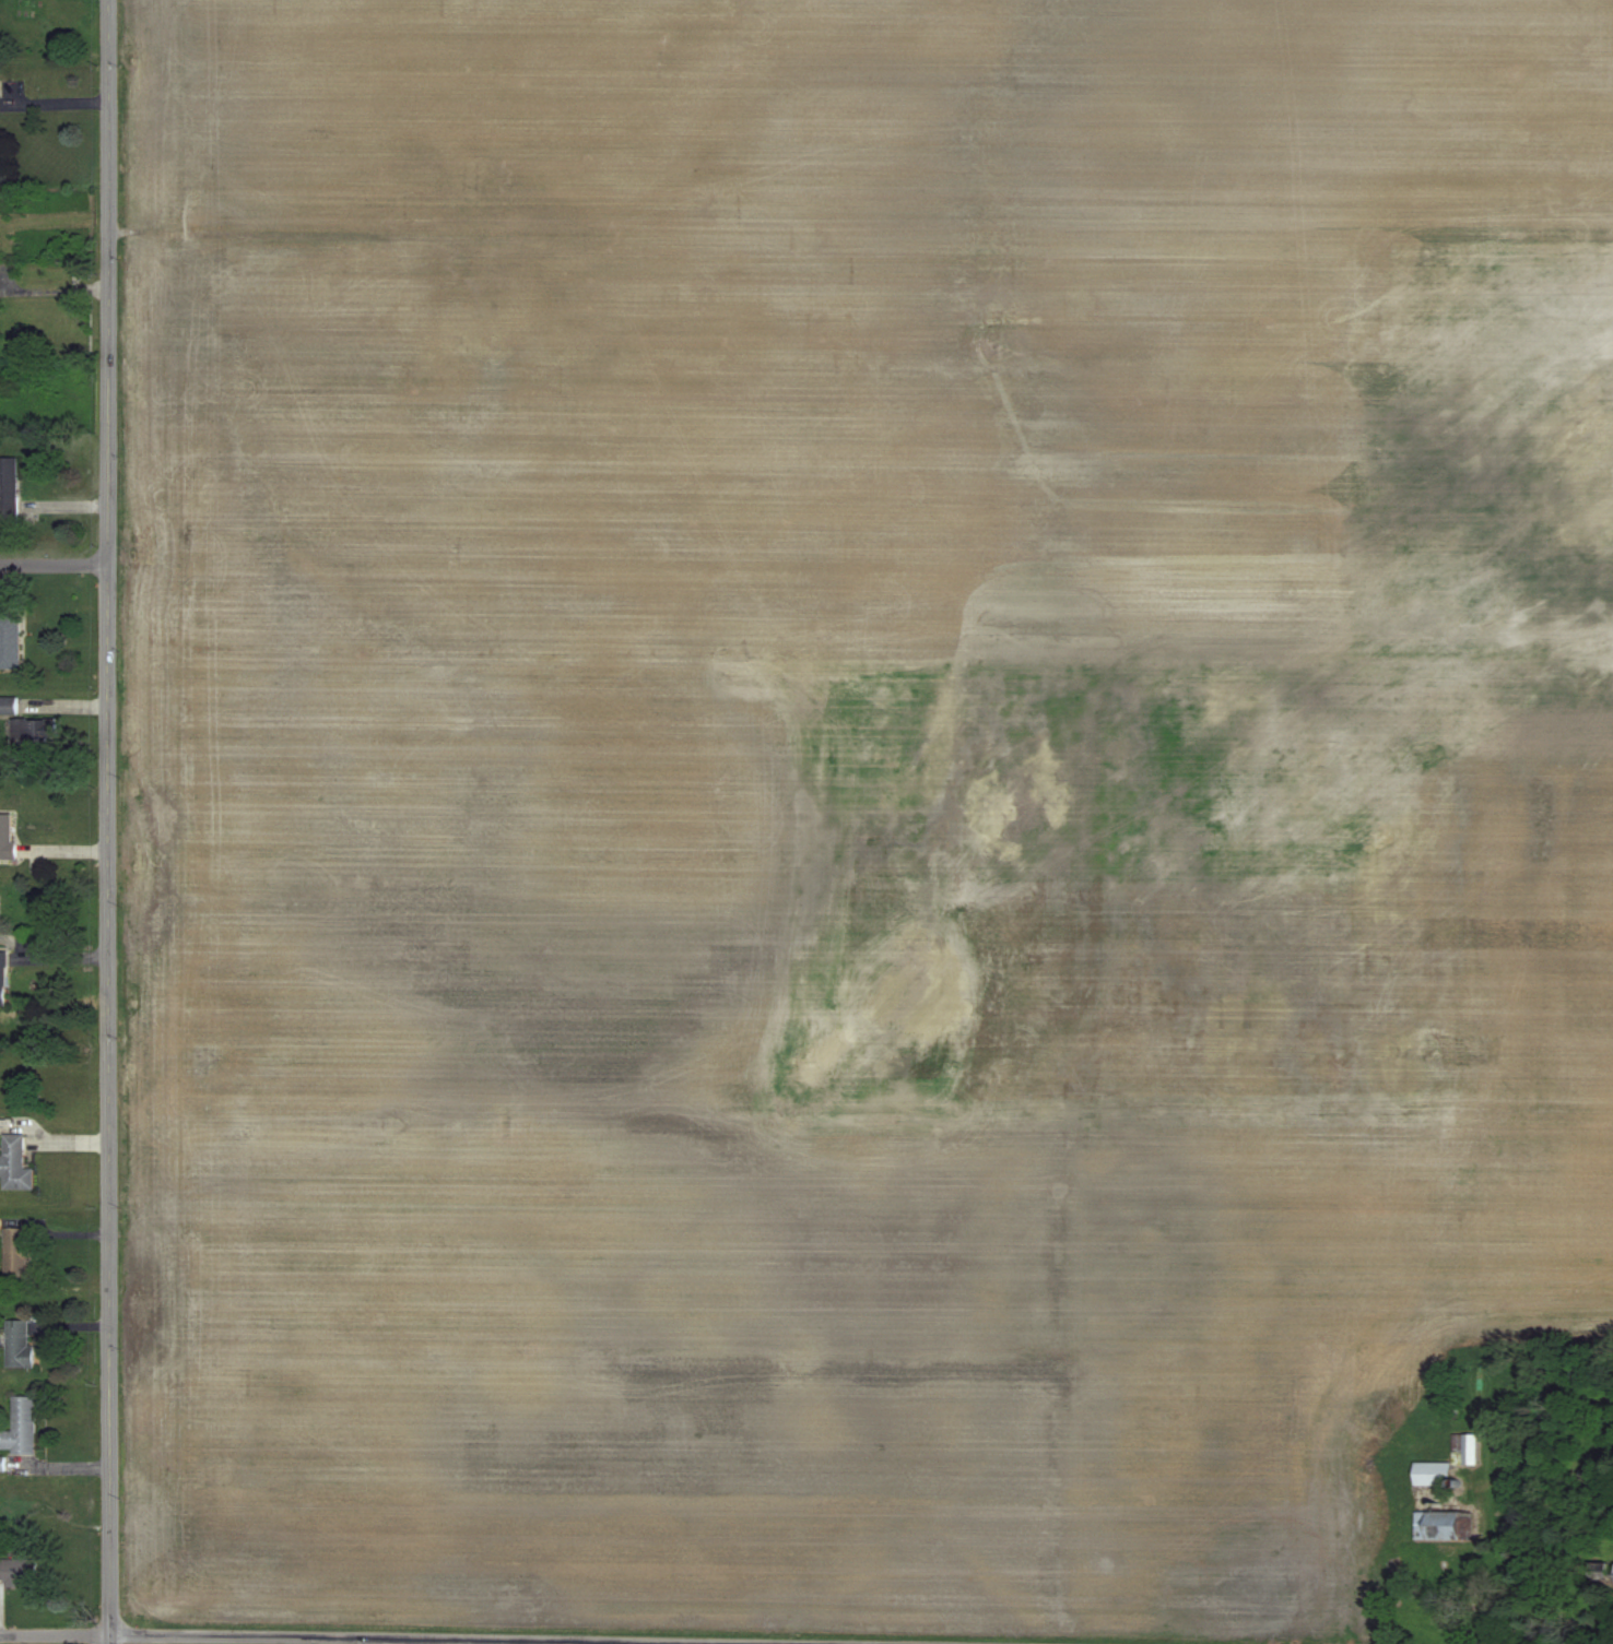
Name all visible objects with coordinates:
road: (54, 100)
road: (55, 287)
building: (11, 493)
road: (55, 567)
building: (10, 640)
building: (9, 705)
building: (35, 730)
road: (109, 821)
building: (7, 836)
building: (2, 978)
building: (14, 1164)
building: (15, 1253)
building: (16, 1344)
building: (19, 1427)
building: (1464, 1448)
building: (1, 1464)
building: (1430, 1474)
building: (1436, 1526)
building: (17, 1572)
road: (327, 1639)

